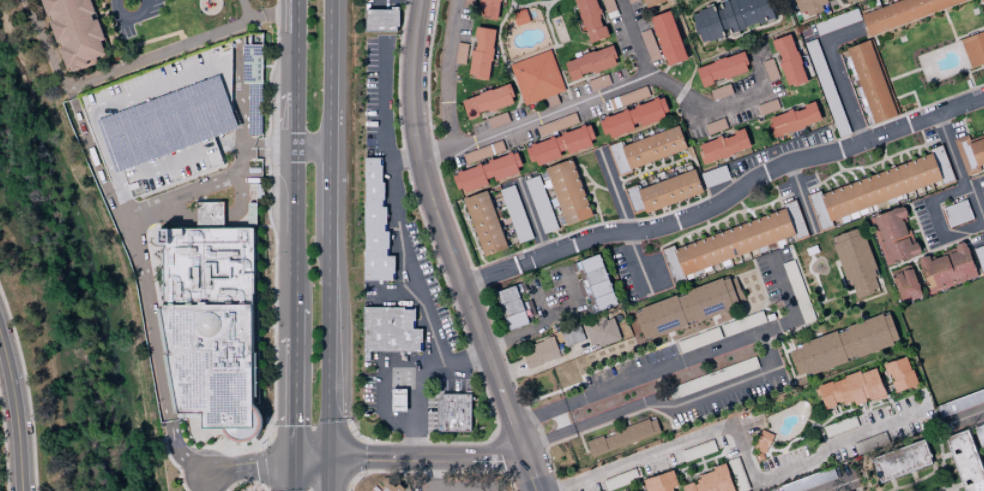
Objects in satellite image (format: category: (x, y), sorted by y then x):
building: (980, 1)
building: (652, 2)
building: (809, 6)
building: (488, 8)
building: (903, 12)
building: (520, 17)
building: (730, 17)
building: (380, 20)
building: (590, 20)
building: (836, 21)
road: (130, 23)
building: (75, 31)
building: (667, 38)
building: (648, 45)
road: (297, 47)
building: (973, 49)
building: (460, 53)
building: (481, 53)
road: (137, 57)
building: (788, 61)
building: (590, 63)
road: (222, 65)
building: (254, 65)
building: (721, 69)
road: (331, 73)
road: (446, 73)
road: (840, 75)
building: (536, 77)
building: (598, 82)
building: (870, 82)
building: (826, 88)
road: (238, 89)
building: (632, 96)
building: (487, 101)
road: (570, 105)
road: (716, 107)
building: (631, 118)
building: (793, 120)
road: (297, 121)
building: (164, 125)
parking lot: (164, 125)
building: (556, 126)
building: (714, 126)
road: (228, 141)
road: (239, 142)
building: (559, 145)
building: (723, 146)
road: (268, 148)
road: (314, 148)
building: (646, 149)
road: (953, 150)
building: (970, 153)
building: (482, 154)
road: (405, 161)
road: (111, 165)
road: (154, 170)
building: (486, 173)
building: (714, 176)
road: (751, 185)
road: (240, 187)
building: (880, 187)
road: (297, 189)
building: (259, 191)
road: (330, 192)
building: (567, 192)
building: (663, 192)
building: (539, 204)
road: (976, 204)
building: (956, 212)
building: (209, 214)
building: (252, 214)
building: (515, 214)
road: (210, 216)
road: (162, 218)
road: (933, 220)
road: (405, 223)
building: (484, 223)
building: (374, 225)
building: (892, 236)
building: (732, 242)
road: (452, 249)
building: (979, 257)
road: (638, 263)
building: (855, 263)
building: (946, 268)
road: (296, 269)
road: (492, 276)
building: (595, 281)
building: (905, 285)
road: (404, 290)
road: (146, 292)
building: (797, 292)
road: (539, 302)
building: (512, 307)
building: (687, 308)
road: (555, 319)
road: (296, 322)
building: (742, 323)
building: (214, 324)
building: (389, 330)
building: (599, 331)
building: (571, 335)
building: (688, 343)
building: (843, 345)
road: (329, 347)
building: (540, 352)
road: (689, 359)
building: (899, 374)
building: (713, 377)
road: (25, 389)
building: (851, 389)
road: (295, 398)
road: (379, 399)
building: (397, 400)
road: (651, 400)
building: (960, 403)
road: (16, 412)
road: (965, 413)
building: (454, 414)
building: (830, 429)
building: (249, 430)
building: (622, 437)
road: (418, 438)
road: (745, 447)
building: (698, 450)
traffic signals: (328, 459)
road: (411, 459)
traffic signals: (294, 460)
building: (901, 461)
building: (965, 462)
road: (239, 468)
building: (737, 474)
road: (294, 475)
road: (328, 475)
road: (434, 475)
building: (620, 479)
building: (711, 481)
building: (660, 482)
building: (807, 482)
road: (483, 487)
road: (843, 487)

